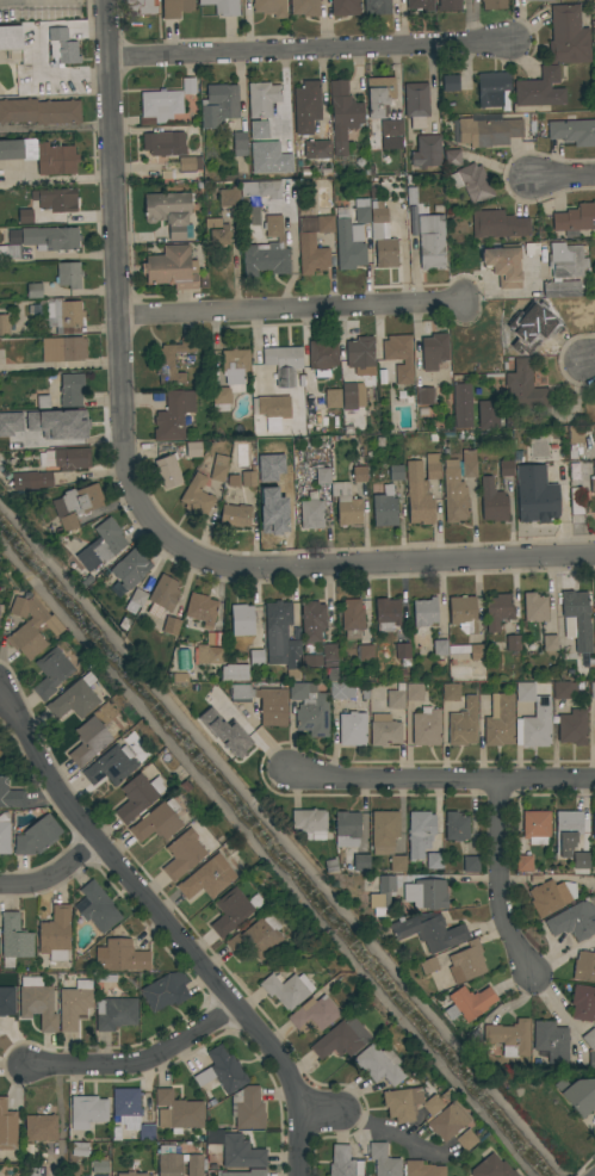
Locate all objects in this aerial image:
building: (540, 0)
building: (494, 4)
building: (420, 5)
building: (448, 5)
building: (223, 6)
building: (141, 7)
building: (175, 7)
building: (269, 7)
building: (304, 7)
building: (345, 7)
building: (377, 7)
building: (568, 36)
building: (10, 37)
building: (61, 47)
road: (309, 50)
building: (594, 52)
building: (450, 82)
building: (187, 86)
building: (535, 87)
building: (492, 89)
building: (379, 95)
building: (262, 99)
building: (218, 104)
building: (415, 104)
building: (159, 106)
building: (306, 107)
building: (39, 111)
building: (342, 114)
road: (56, 126)
building: (488, 131)
building: (572, 131)
building: (390, 134)
building: (285, 140)
building: (163, 143)
building: (240, 143)
building: (11, 149)
building: (314, 150)
building: (426, 151)
building: (451, 157)
building: (55, 159)
building: (185, 163)
road: (563, 178)
road: (58, 179)
building: (471, 182)
building: (261, 190)
building: (411, 196)
building: (228, 197)
building: (57, 200)
building: (168, 212)
building: (361, 212)
building: (252, 216)
building: (23, 217)
building: (575, 218)
building: (323, 224)
building: (497, 224)
building: (306, 225)
building: (217, 233)
building: (12, 237)
building: (50, 239)
building: (382, 239)
building: (430, 242)
building: (347, 246)
building: (10, 252)
building: (266, 252)
building: (309, 255)
building: (502, 265)
building: (172, 267)
building: (564, 271)
building: (68, 274)
road: (118, 277)
building: (33, 291)
road: (293, 309)
building: (63, 316)
building: (527, 321)
building: (4, 326)
building: (62, 348)
building: (433, 351)
building: (360, 355)
building: (322, 357)
building: (399, 357)
building: (171, 360)
road: (589, 360)
building: (283, 364)
building: (230, 377)
building: (523, 388)
building: (70, 390)
building: (352, 395)
building: (424, 396)
building: (333, 398)
building: (42, 402)
building: (461, 406)
building: (271, 410)
building: (173, 415)
building: (491, 416)
building: (69, 421)
building: (11, 425)
building: (320, 426)
building: (35, 437)
building: (574, 439)
building: (378, 442)
building: (192, 450)
building: (64, 459)
building: (469, 464)
building: (432, 466)
building: (506, 468)
building: (218, 469)
building: (268, 469)
building: (167, 470)
building: (359, 472)
building: (395, 472)
building: (284, 475)
building: (322, 475)
building: (248, 477)
building: (593, 478)
building: (30, 481)
building: (453, 494)
building: (197, 495)
building: (417, 495)
building: (534, 496)
building: (491, 501)
building: (575, 501)
building: (346, 505)
building: (76, 506)
building: (272, 508)
building: (384, 510)
building: (311, 512)
building: (235, 515)
building: (103, 544)
road: (379, 564)
building: (128, 571)
building: (162, 596)
building: (135, 601)
building: (594, 601)
building: (534, 607)
building: (0, 608)
building: (200, 608)
building: (496, 611)
building: (424, 612)
building: (463, 613)
building: (386, 614)
building: (352, 618)
building: (577, 619)
building: (241, 620)
building: (312, 620)
building: (122, 624)
building: (169, 625)
building: (30, 626)
building: (281, 638)
building: (213, 639)
building: (513, 643)
building: (548, 643)
building: (439, 648)
building: (467, 650)
building: (399, 651)
building: (364, 654)
building: (209, 655)
building: (330, 655)
building: (255, 657)
building: (180, 660)
building: (311, 661)
building: (234, 671)
building: (50, 673)
building: (178, 677)
building: (337, 688)
building: (563, 689)
building: (591, 689)
building: (414, 692)
building: (451, 692)
building: (396, 697)
building: (74, 699)
building: (262, 702)
building: (310, 708)
building: (532, 718)
building: (498, 720)
building: (463, 724)
building: (426, 726)
building: (594, 726)
building: (572, 728)
building: (352, 729)
building: (383, 730)
building: (223, 732)
building: (87, 742)
building: (110, 766)
road: (442, 779)
building: (10, 796)
building: (137, 797)
building: (156, 822)
building: (309, 824)
building: (455, 827)
building: (535, 827)
building: (346, 829)
building: (593, 829)
building: (566, 830)
building: (383, 831)
building: (4, 833)
building: (420, 833)
building: (36, 836)
building: (182, 854)
building: (579, 860)
building: (434, 861)
building: (355, 864)
building: (397, 864)
building: (471, 864)
building: (523, 864)
road: (54, 875)
building: (206, 878)
road: (500, 879)
building: (594, 884)
building: (426, 895)
building: (383, 896)
building: (547, 897)
building: (95, 906)
building: (229, 911)
building: (574, 921)
building: (429, 931)
building: (55, 934)
road: (176, 935)
building: (255, 936)
building: (13, 939)
building: (120, 957)
building: (466, 963)
building: (427, 965)
building: (583, 966)
building: (286, 989)
building: (165, 991)
building: (6, 1002)
building: (36, 1003)
building: (467, 1003)
building: (583, 1003)
building: (74, 1004)
building: (314, 1011)
building: (114, 1013)
building: (340, 1038)
building: (509, 1038)
building: (589, 1039)
building: (551, 1041)
building: (591, 1059)
road: (138, 1062)
building: (378, 1064)
building: (222, 1071)
building: (577, 1095)
building: (124, 1102)
building: (408, 1103)
building: (247, 1108)
building: (87, 1109)
building: (179, 1112)
building: (161, 1119)
road: (60, 1120)
building: (447, 1121)
building: (124, 1124)
building: (7, 1127)
building: (41, 1127)
building: (145, 1127)
road: (379, 1128)
building: (466, 1140)
building: (79, 1149)
building: (236, 1150)
building: (383, 1160)
building: (343, 1162)
building: (169, 1165)
building: (194, 1165)
building: (100, 1166)
building: (492, 1166)
building: (422, 1169)
building: (246, 1172)
building: (131, 1174)

